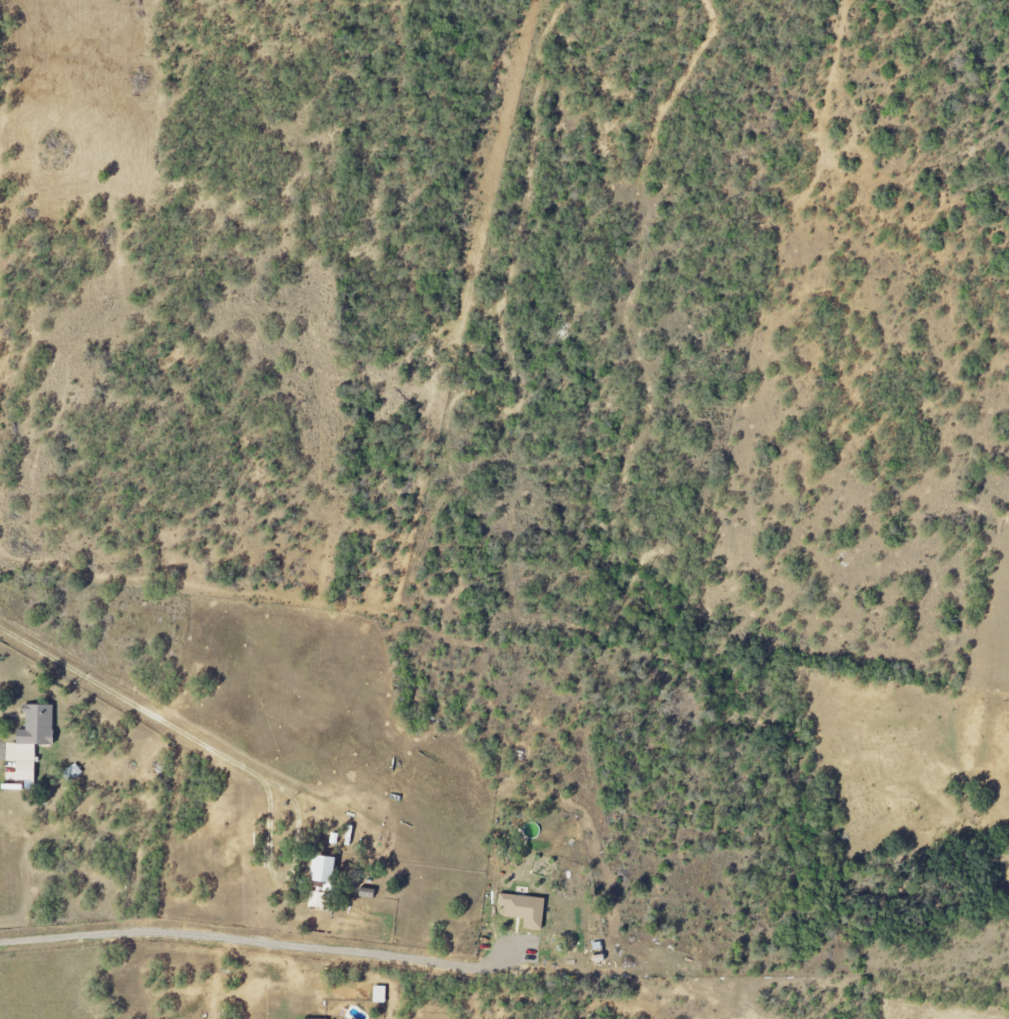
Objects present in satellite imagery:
road: (147, 712)
building: (32, 740)
building: (326, 871)
building: (319, 900)
building: (524, 909)
road: (254, 941)
building: (380, 995)

